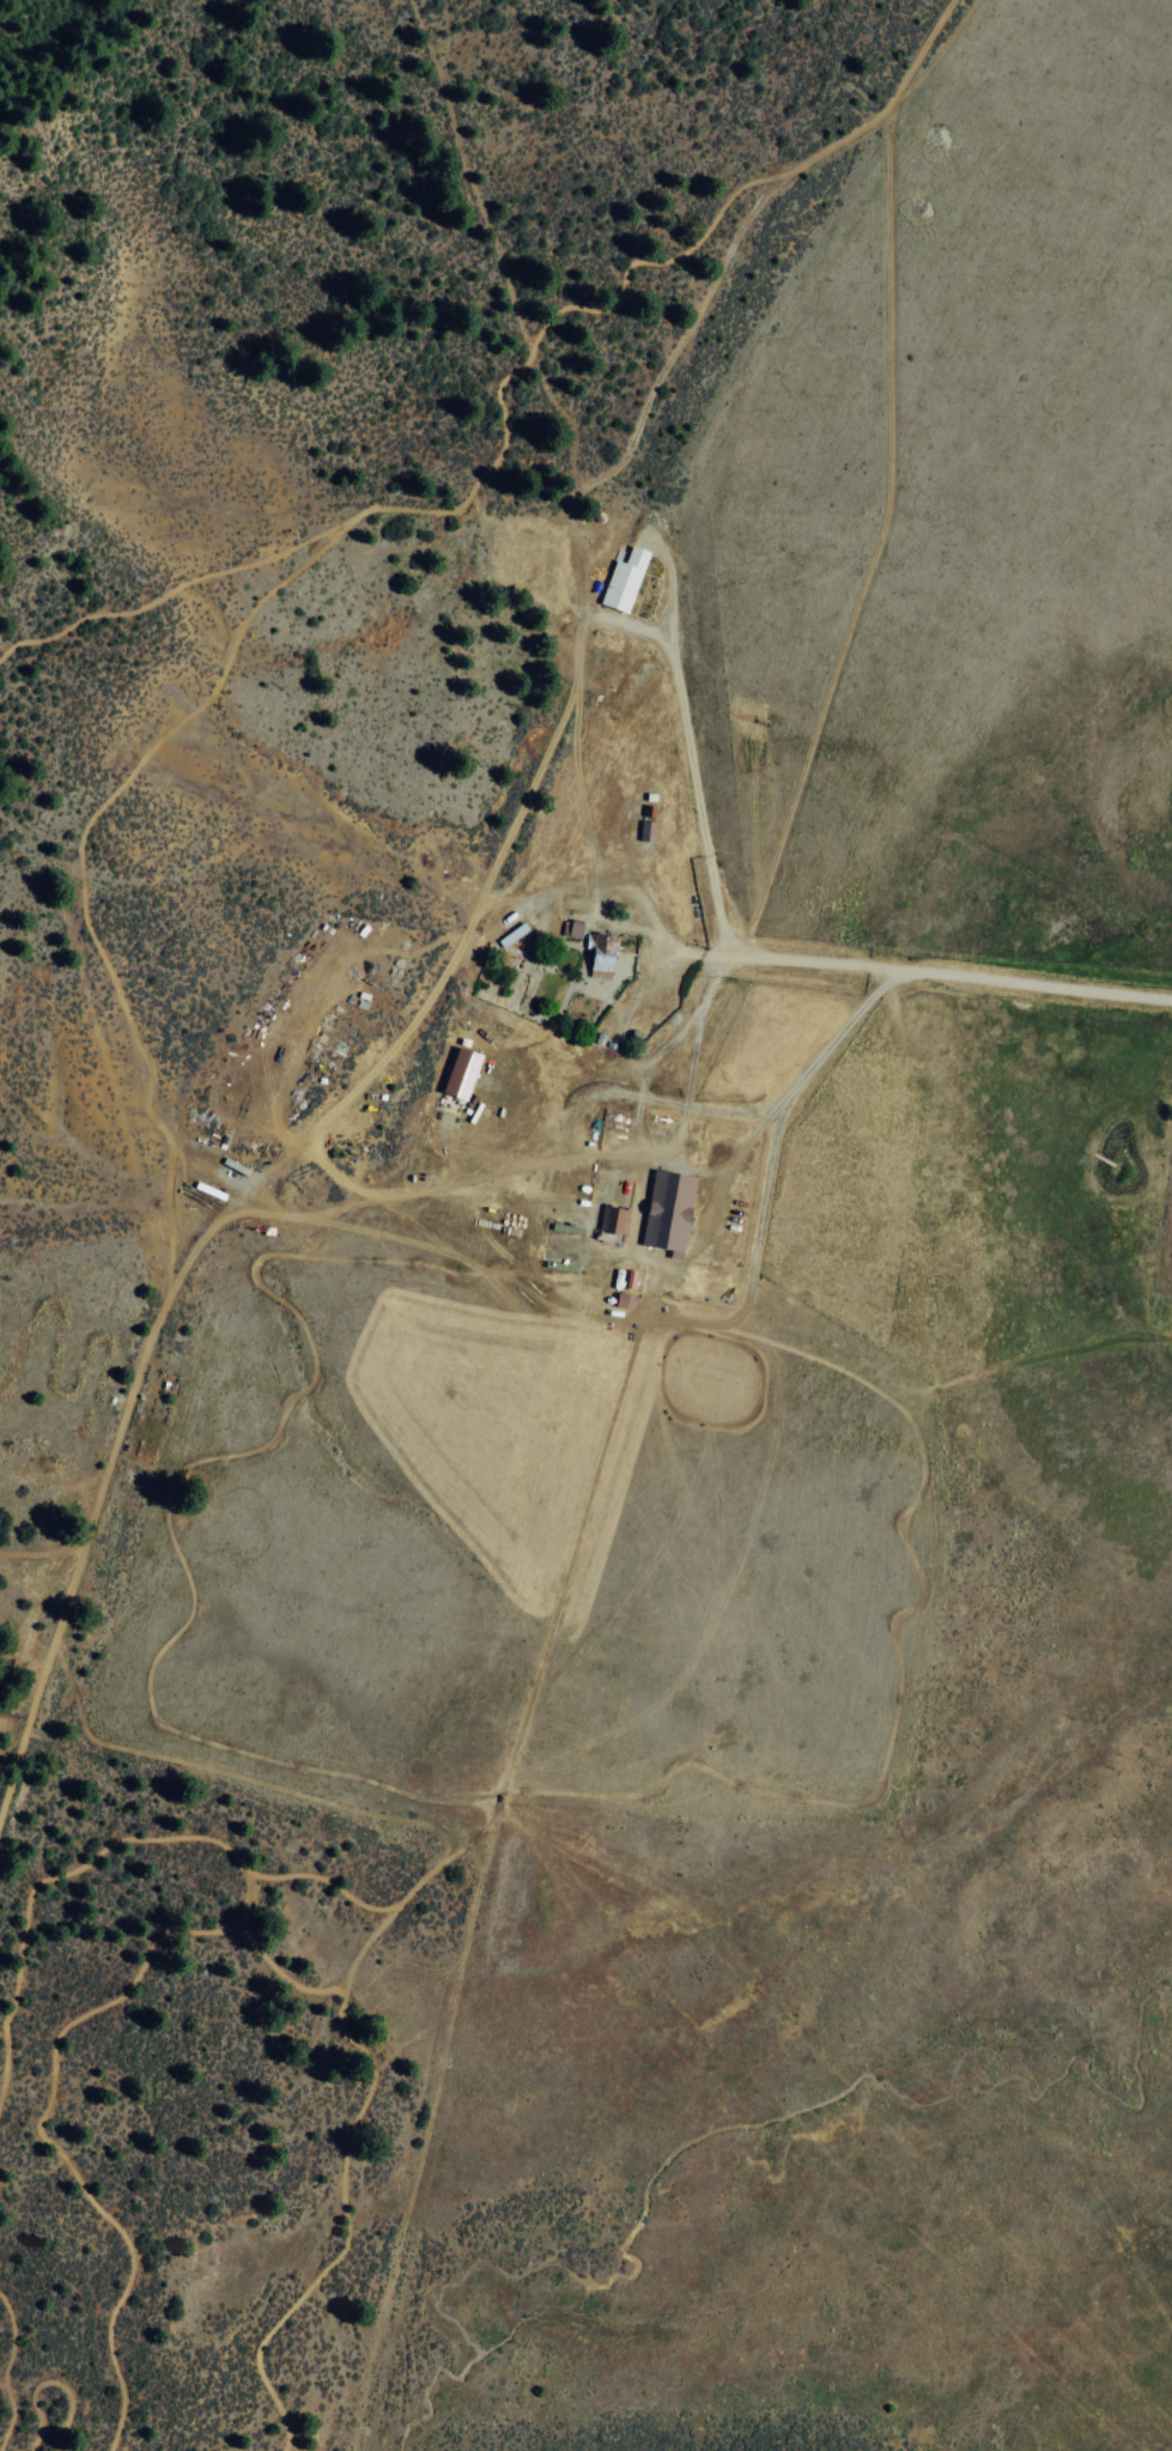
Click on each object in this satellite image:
road: (345, 524)
building: (621, 576)
road: (176, 586)
building: (645, 829)
building: (569, 927)
building: (599, 951)
road: (943, 973)
building: (459, 1073)
road: (286, 1141)
building: (666, 1209)
building: (611, 1219)
road: (368, 1269)
building: (621, 1300)
road: (666, 1323)
crop: (607, 1389)
road: (785, 1451)
road: (42, 1553)
road: (459, 1567)
road: (357, 1613)
road: (530, 1685)
road: (253, 1754)
road: (227, 1772)
road: (116, 1838)
road: (215, 1930)
road: (4, 2371)
road: (48, 2380)

